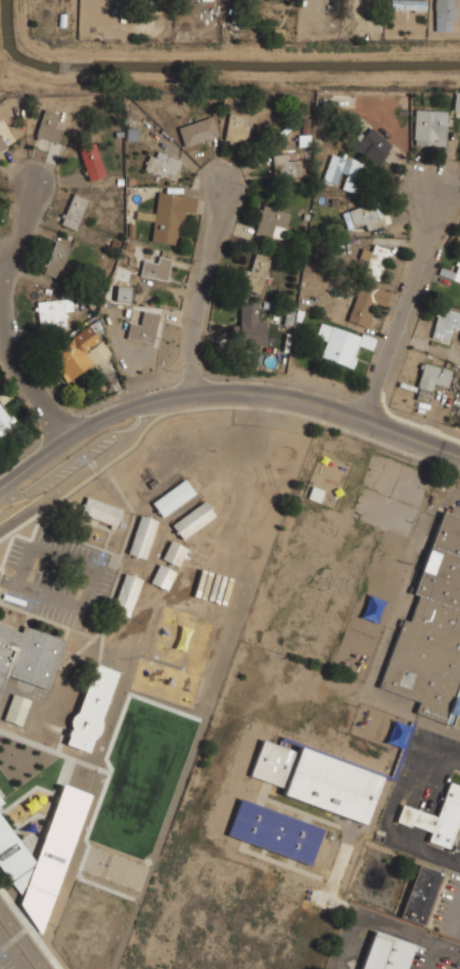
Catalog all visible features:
building: (411, 4)
building: (446, 15)
power tower: (239, 36)
building: (456, 100)
building: (49, 125)
building: (430, 126)
building: (237, 128)
building: (198, 130)
power tower: (258, 130)
building: (2, 143)
building: (371, 145)
building: (92, 162)
building: (163, 163)
building: (286, 165)
building: (345, 171)
building: (74, 210)
building: (170, 215)
building: (364, 215)
building: (144, 216)
building: (272, 222)
building: (56, 259)
building: (374, 260)
building: (157, 266)
building: (456, 270)
building: (255, 272)
road: (4, 277)
road: (205, 277)
building: (123, 293)
road: (409, 301)
building: (366, 303)
building: (53, 312)
road: (7, 316)
building: (445, 322)
building: (250, 323)
building: (143, 326)
building: (340, 343)
building: (75, 353)
building: (434, 376)
road: (222, 394)
building: (5, 421)
road: (136, 429)
parking lot: (72, 463)
road: (61, 466)
park: (395, 480)
road: (70, 481)
building: (173, 496)
road: (9, 497)
building: (101, 510)
park: (384, 511)
building: (193, 519)
building: (142, 536)
building: (174, 553)
road: (95, 571)
building: (162, 575)
parking lot: (59, 579)
road: (7, 581)
building: (126, 593)
building: (432, 630)
building: (27, 654)
building: (91, 707)
building: (16, 708)
road: (436, 752)
park: (142, 776)
building: (317, 779)
building: (0, 803)
building: (436, 817)
road: (390, 820)
building: (275, 831)
building: (42, 856)
park: (94, 860)
road: (452, 860)
park: (118, 868)
park: (135, 875)
building: (422, 894)
road: (372, 925)
road: (22, 938)
road: (438, 948)
building: (386, 951)
road: (12, 953)
parking lot: (11, 954)

